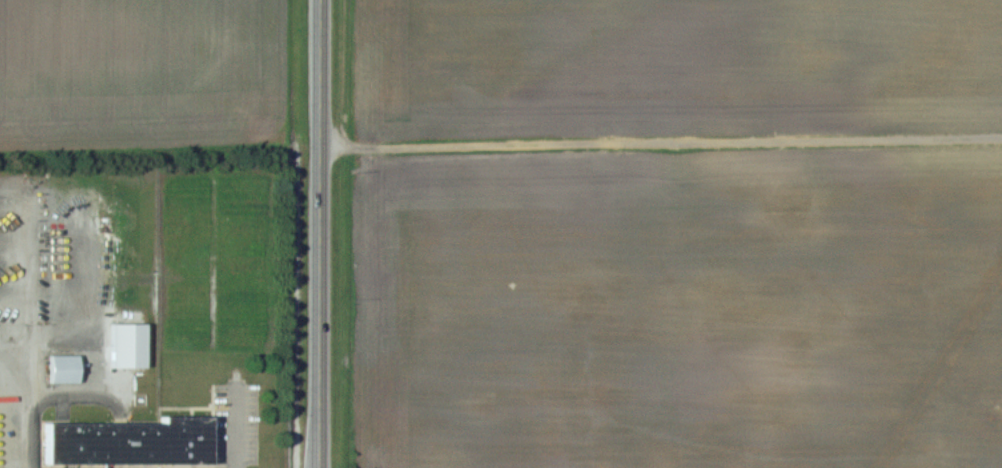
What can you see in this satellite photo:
road: (320, 234)
building: (128, 344)
building: (64, 368)
building: (131, 442)

